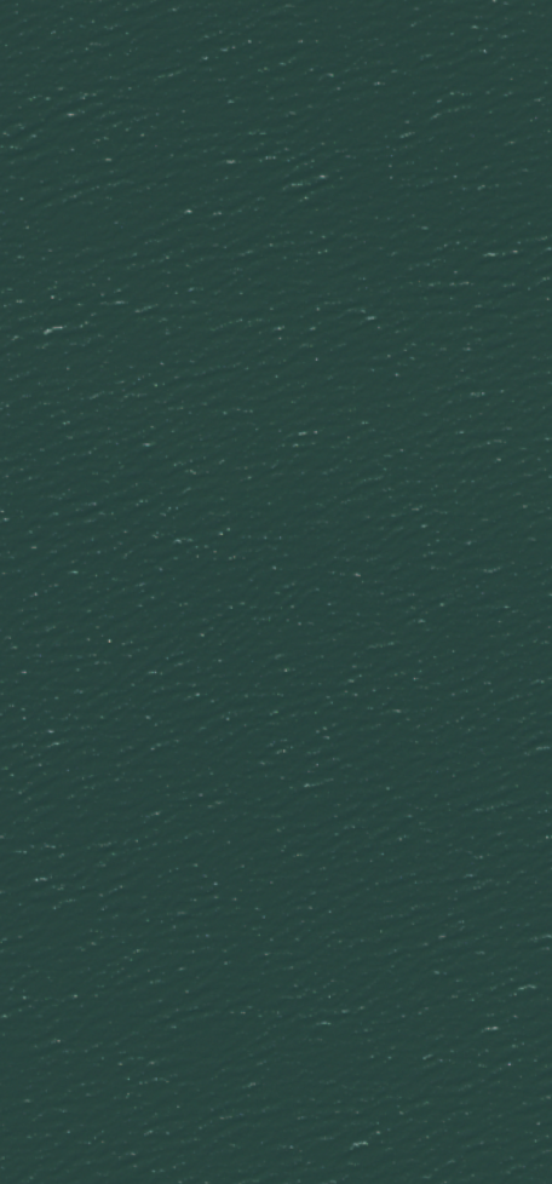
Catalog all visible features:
river: (276, 674)

